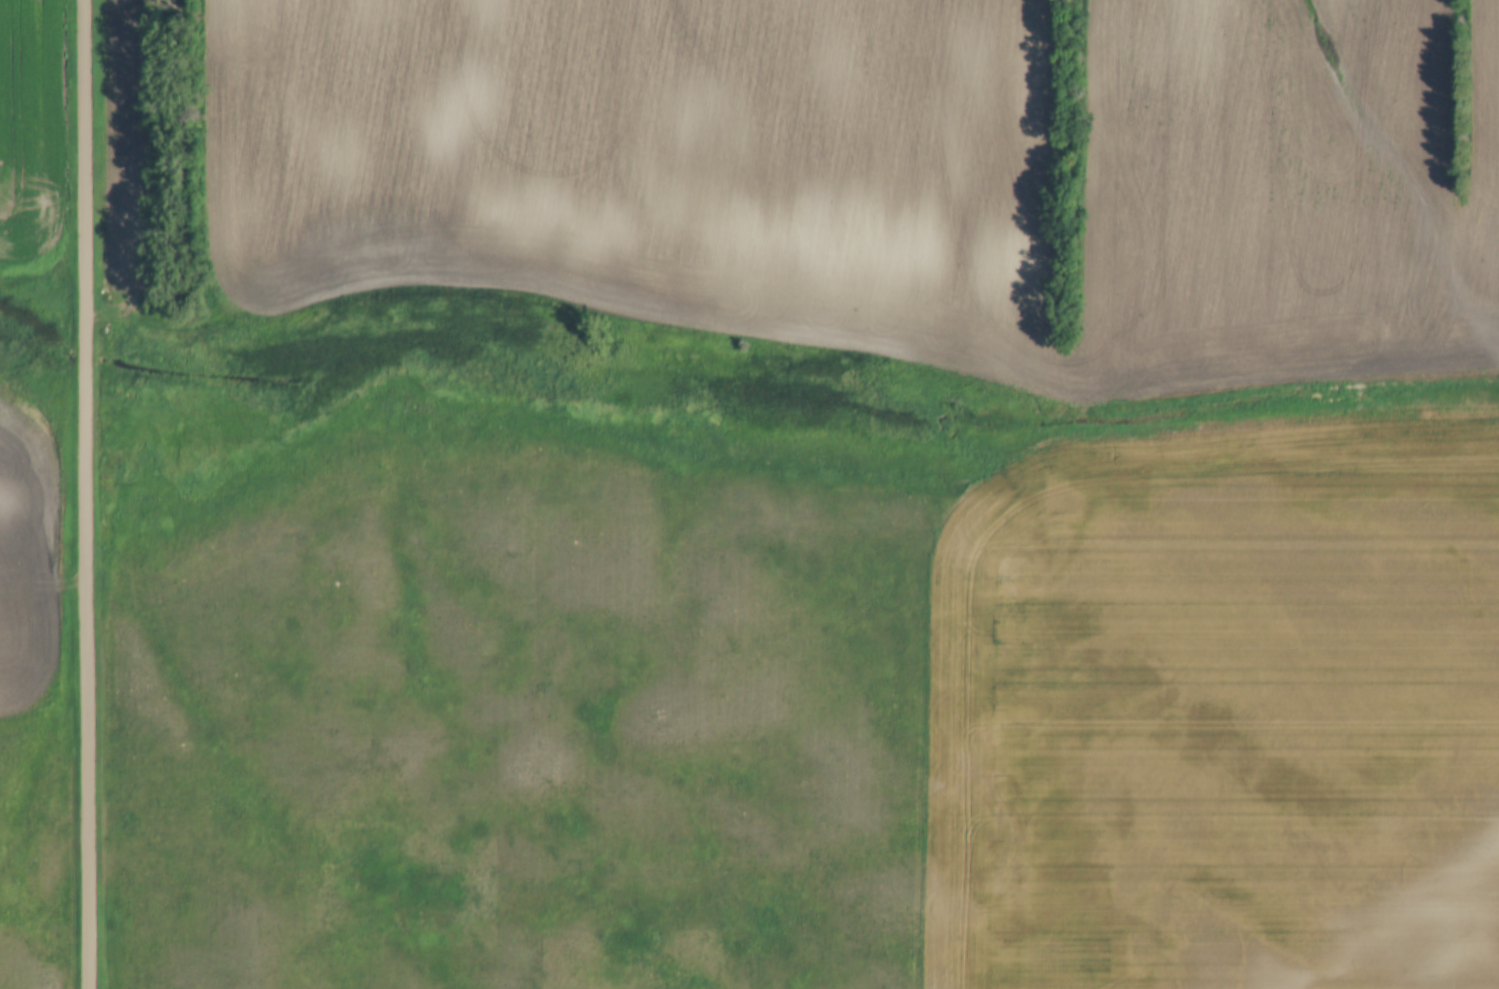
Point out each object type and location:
road: (86, 494)

